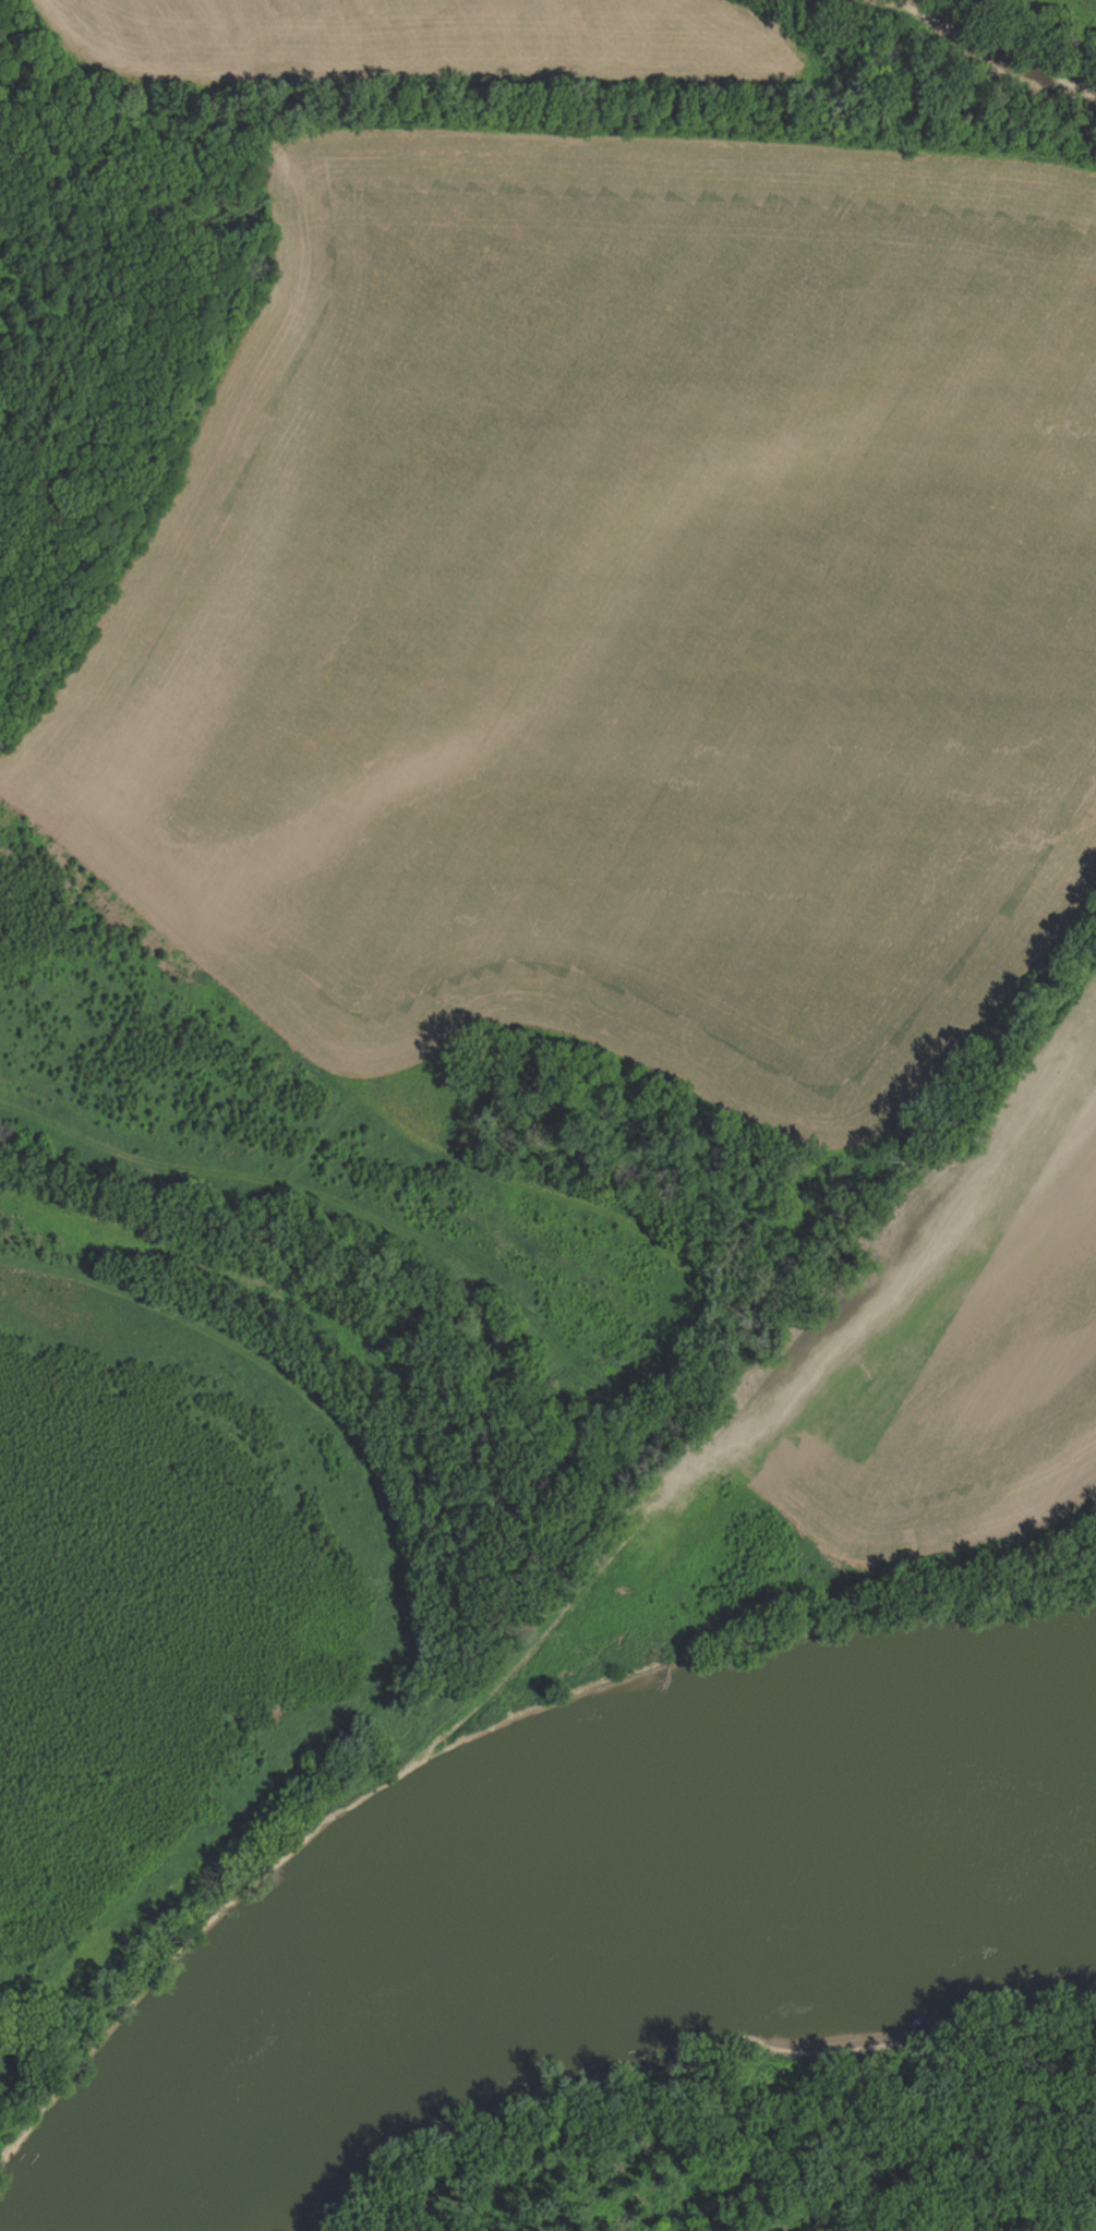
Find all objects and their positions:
river: (602, 1935)

